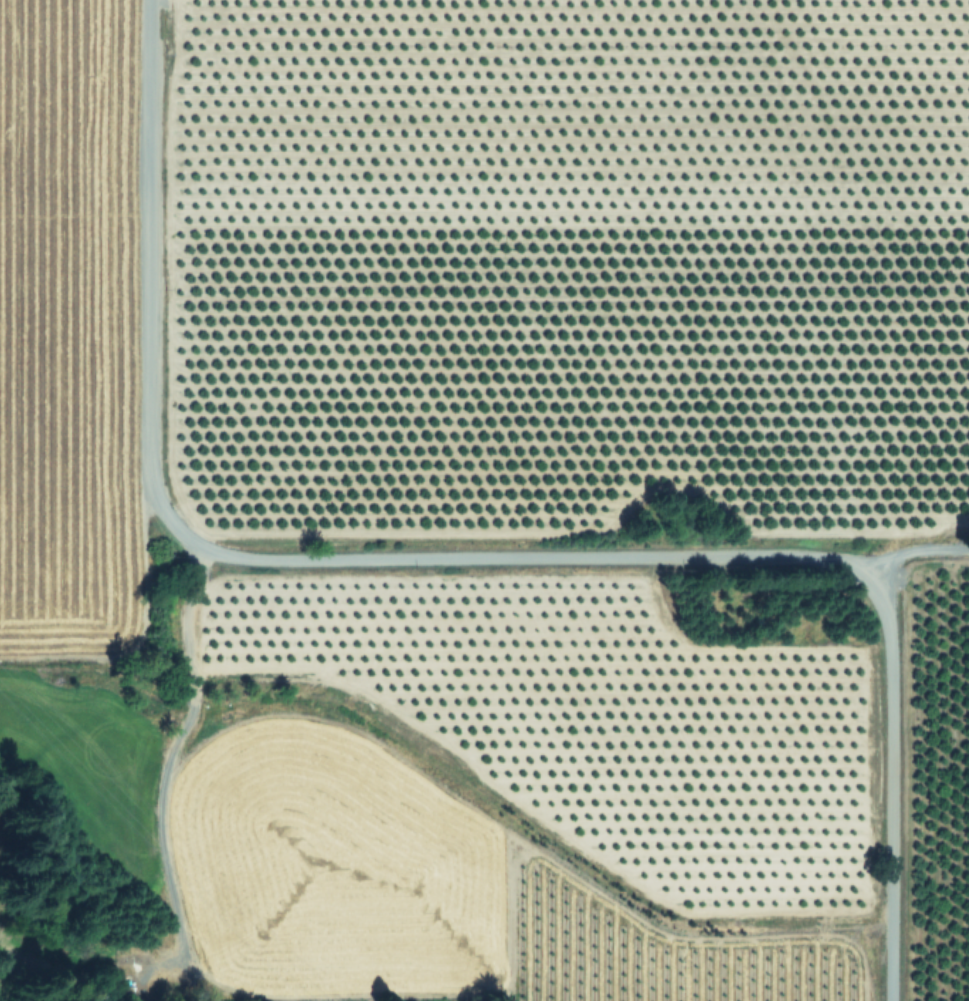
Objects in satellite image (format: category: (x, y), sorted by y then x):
crop: (487, 497)
road: (912, 551)
road: (464, 557)

